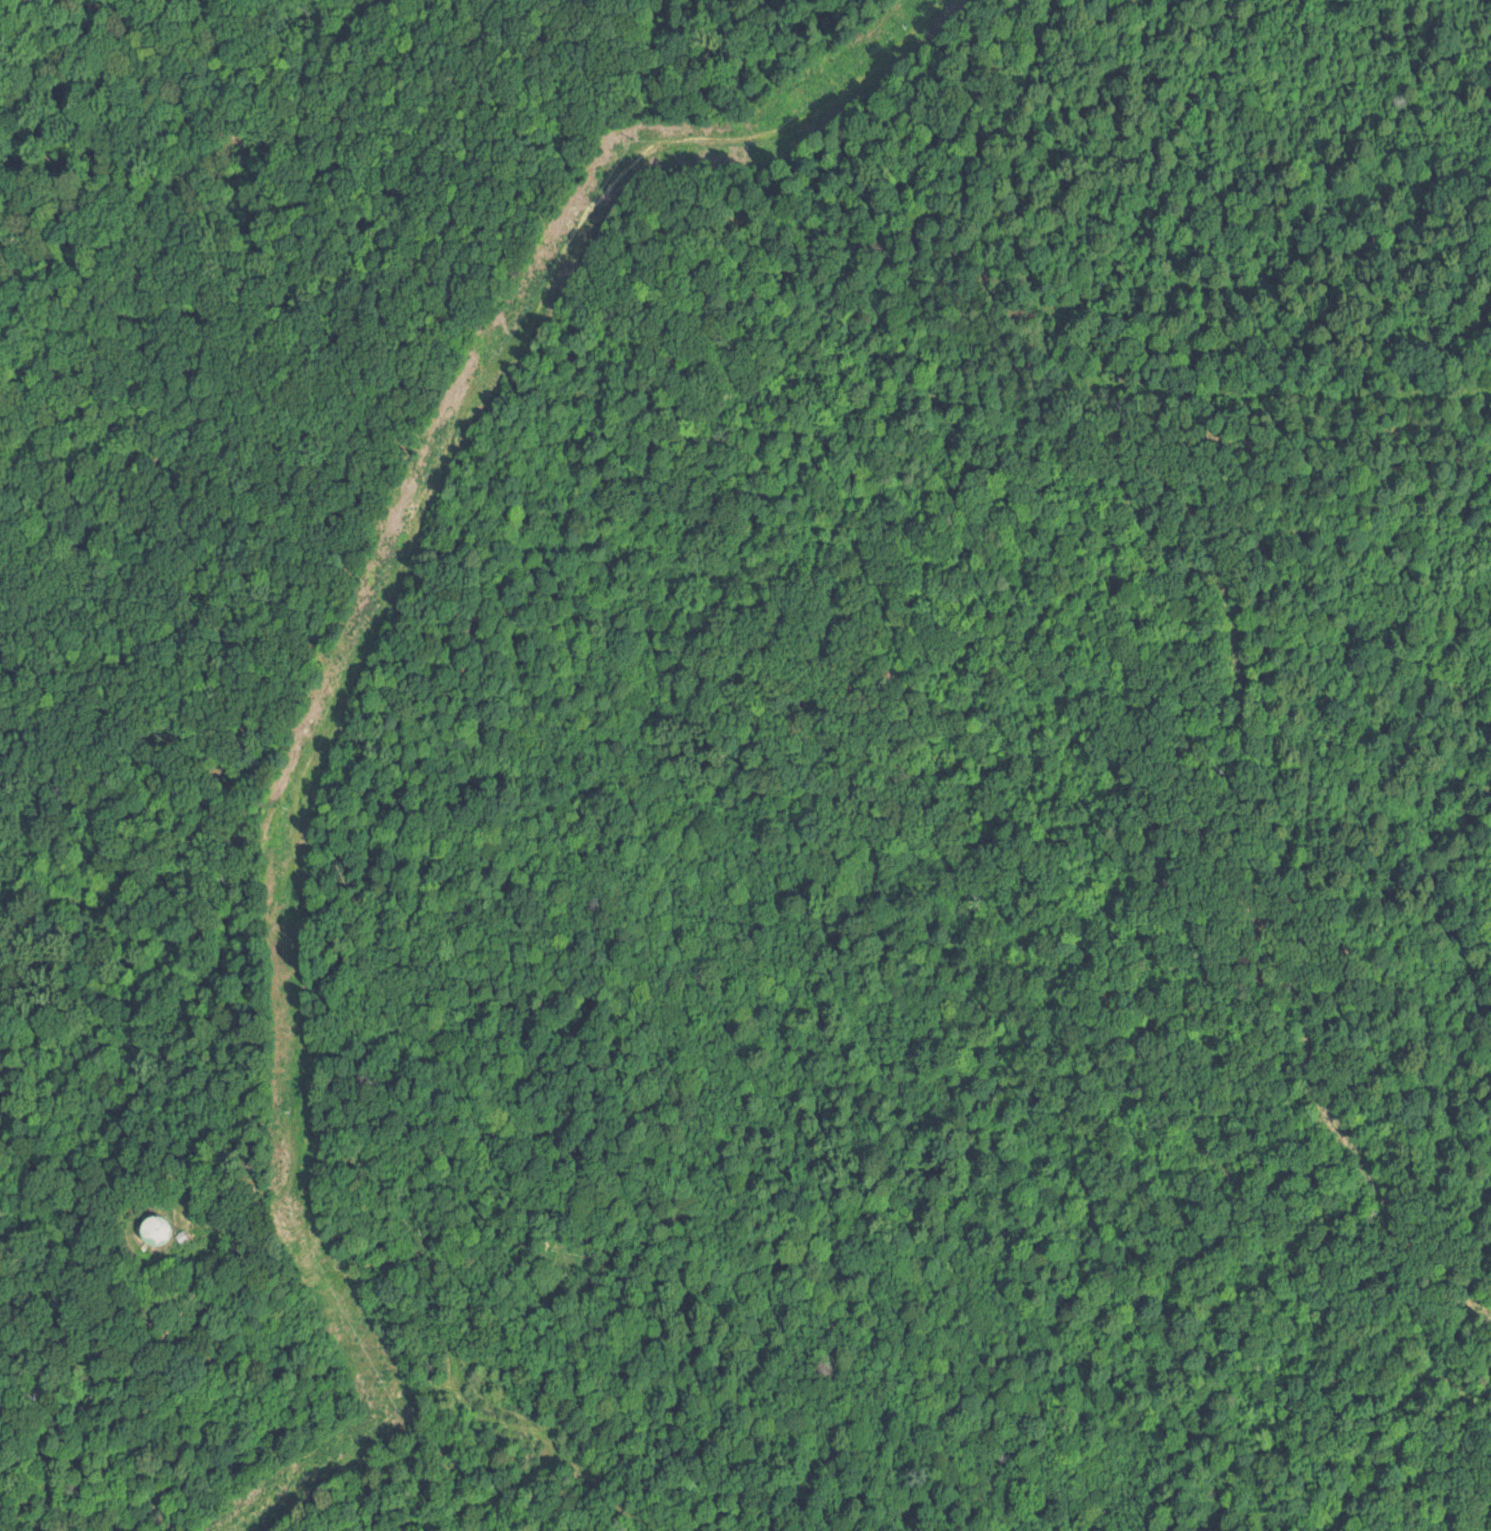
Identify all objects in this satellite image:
road: (142, 386)
building: (163, 1229)

